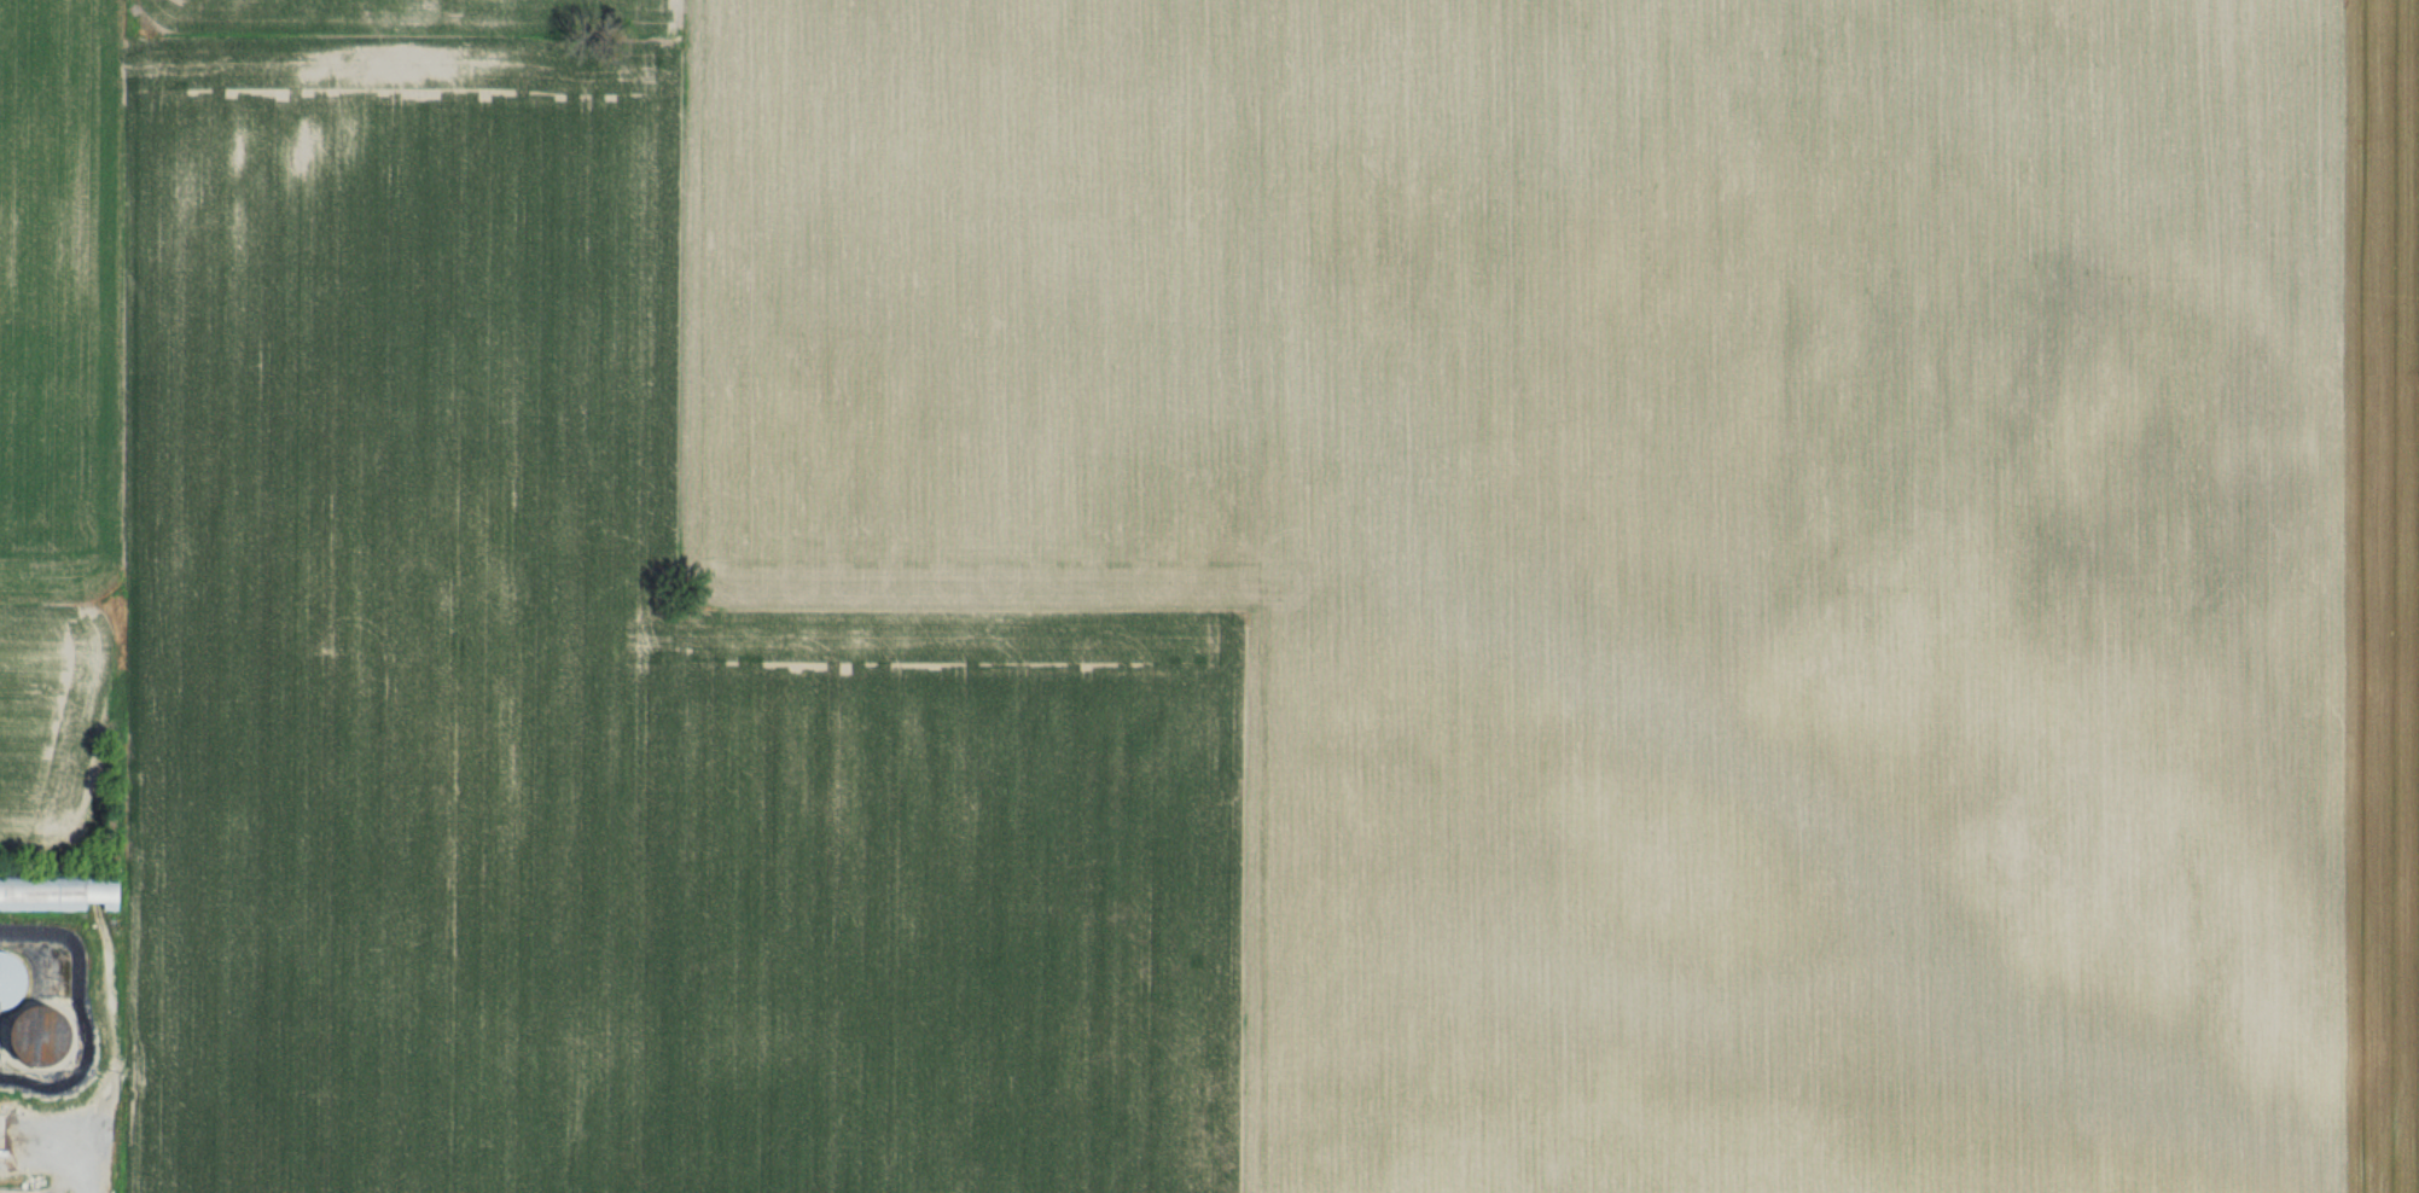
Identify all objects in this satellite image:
building: (7, 980)
storage tank: (11, 982)
building: (0, 1137)
road: (70, 1159)

